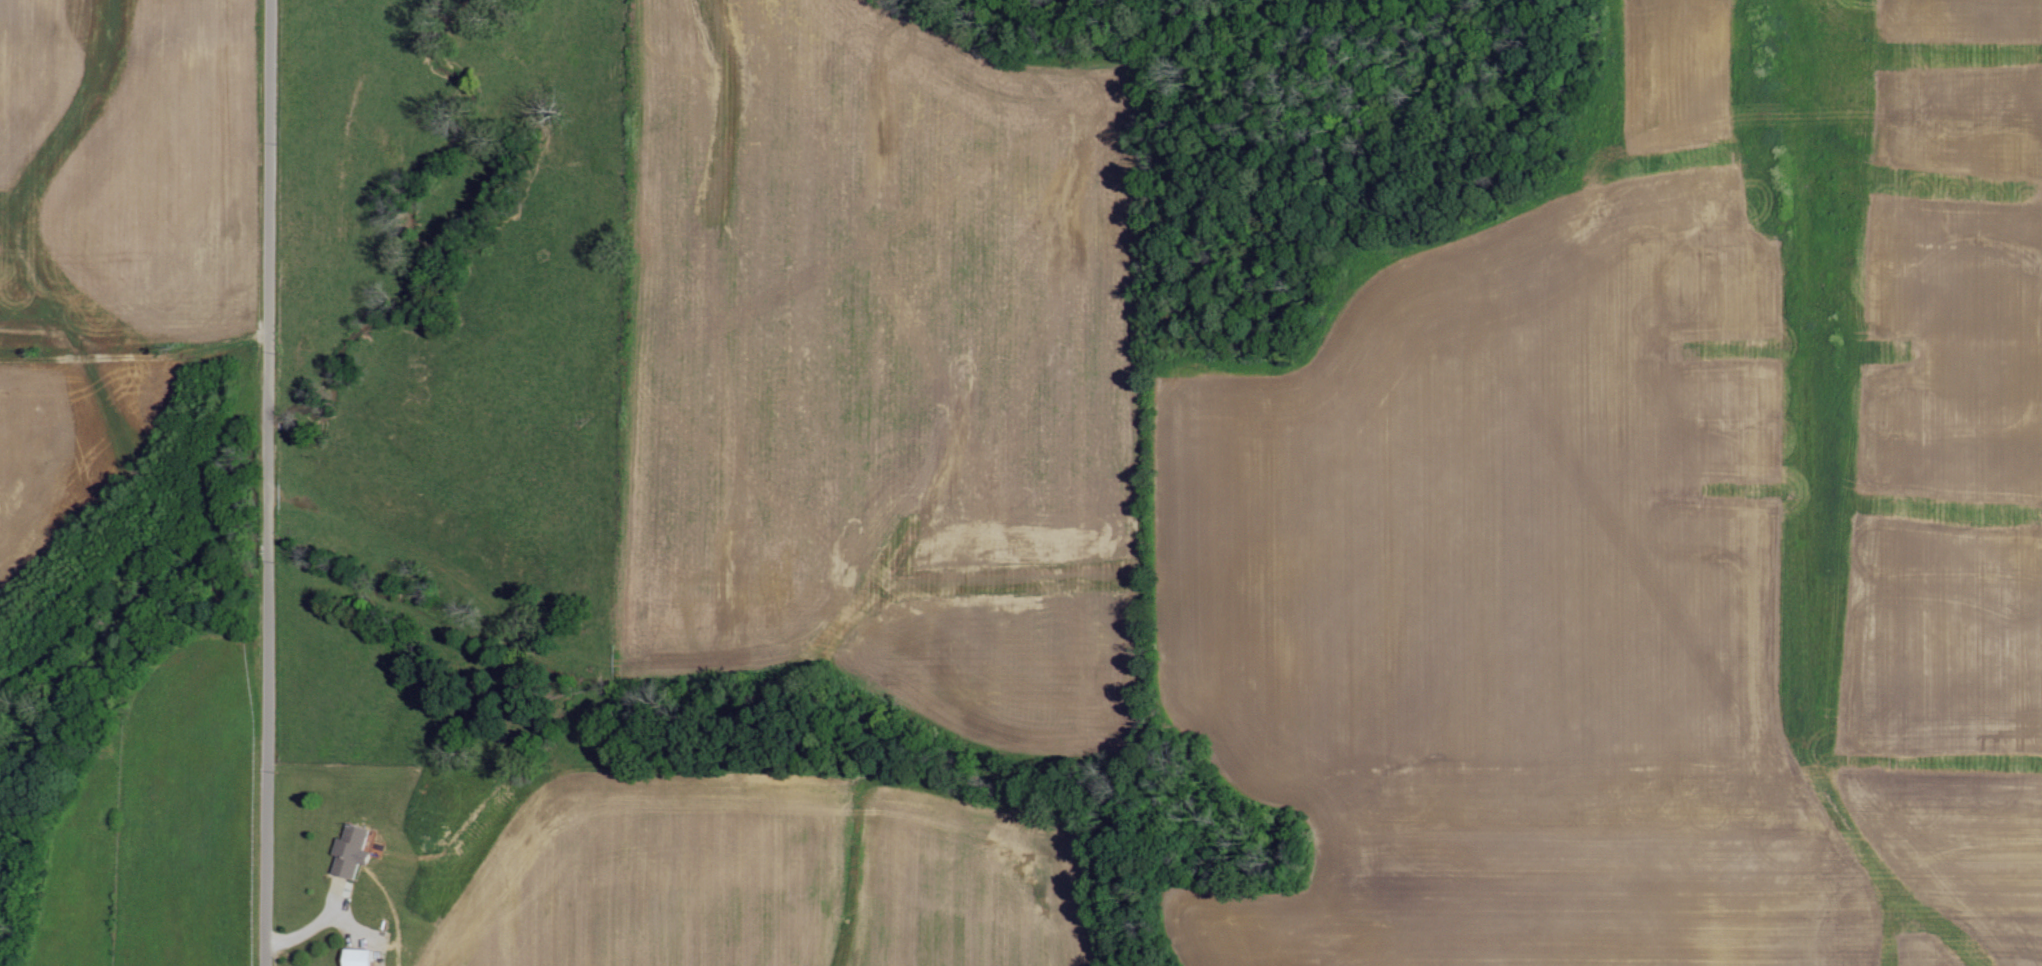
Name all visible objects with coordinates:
road: (269, 483)
building: (358, 852)
building: (364, 957)

